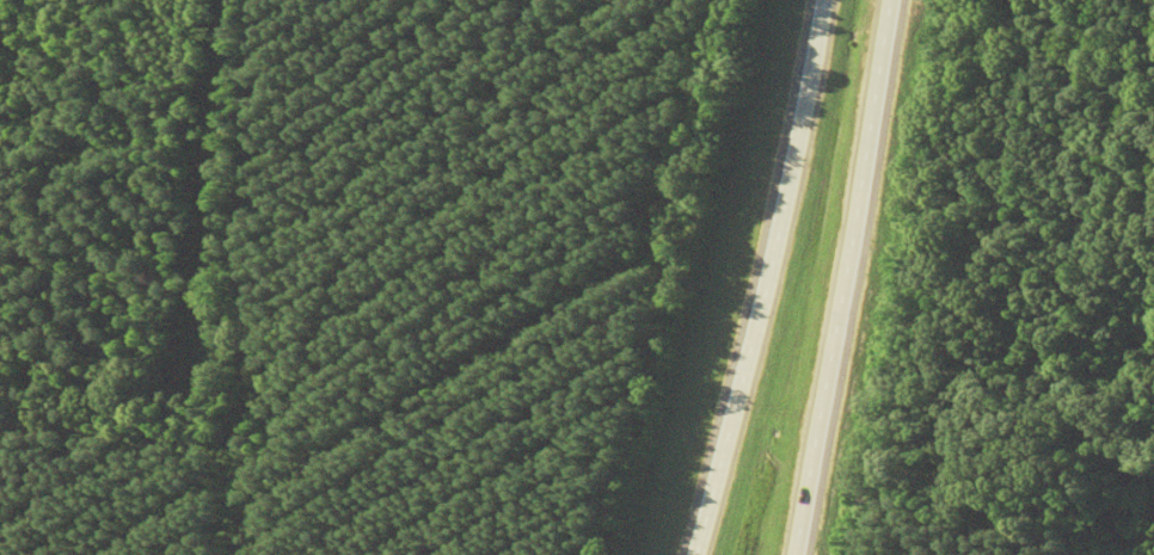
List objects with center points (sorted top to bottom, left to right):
road: (851, 277)
road: (767, 279)

